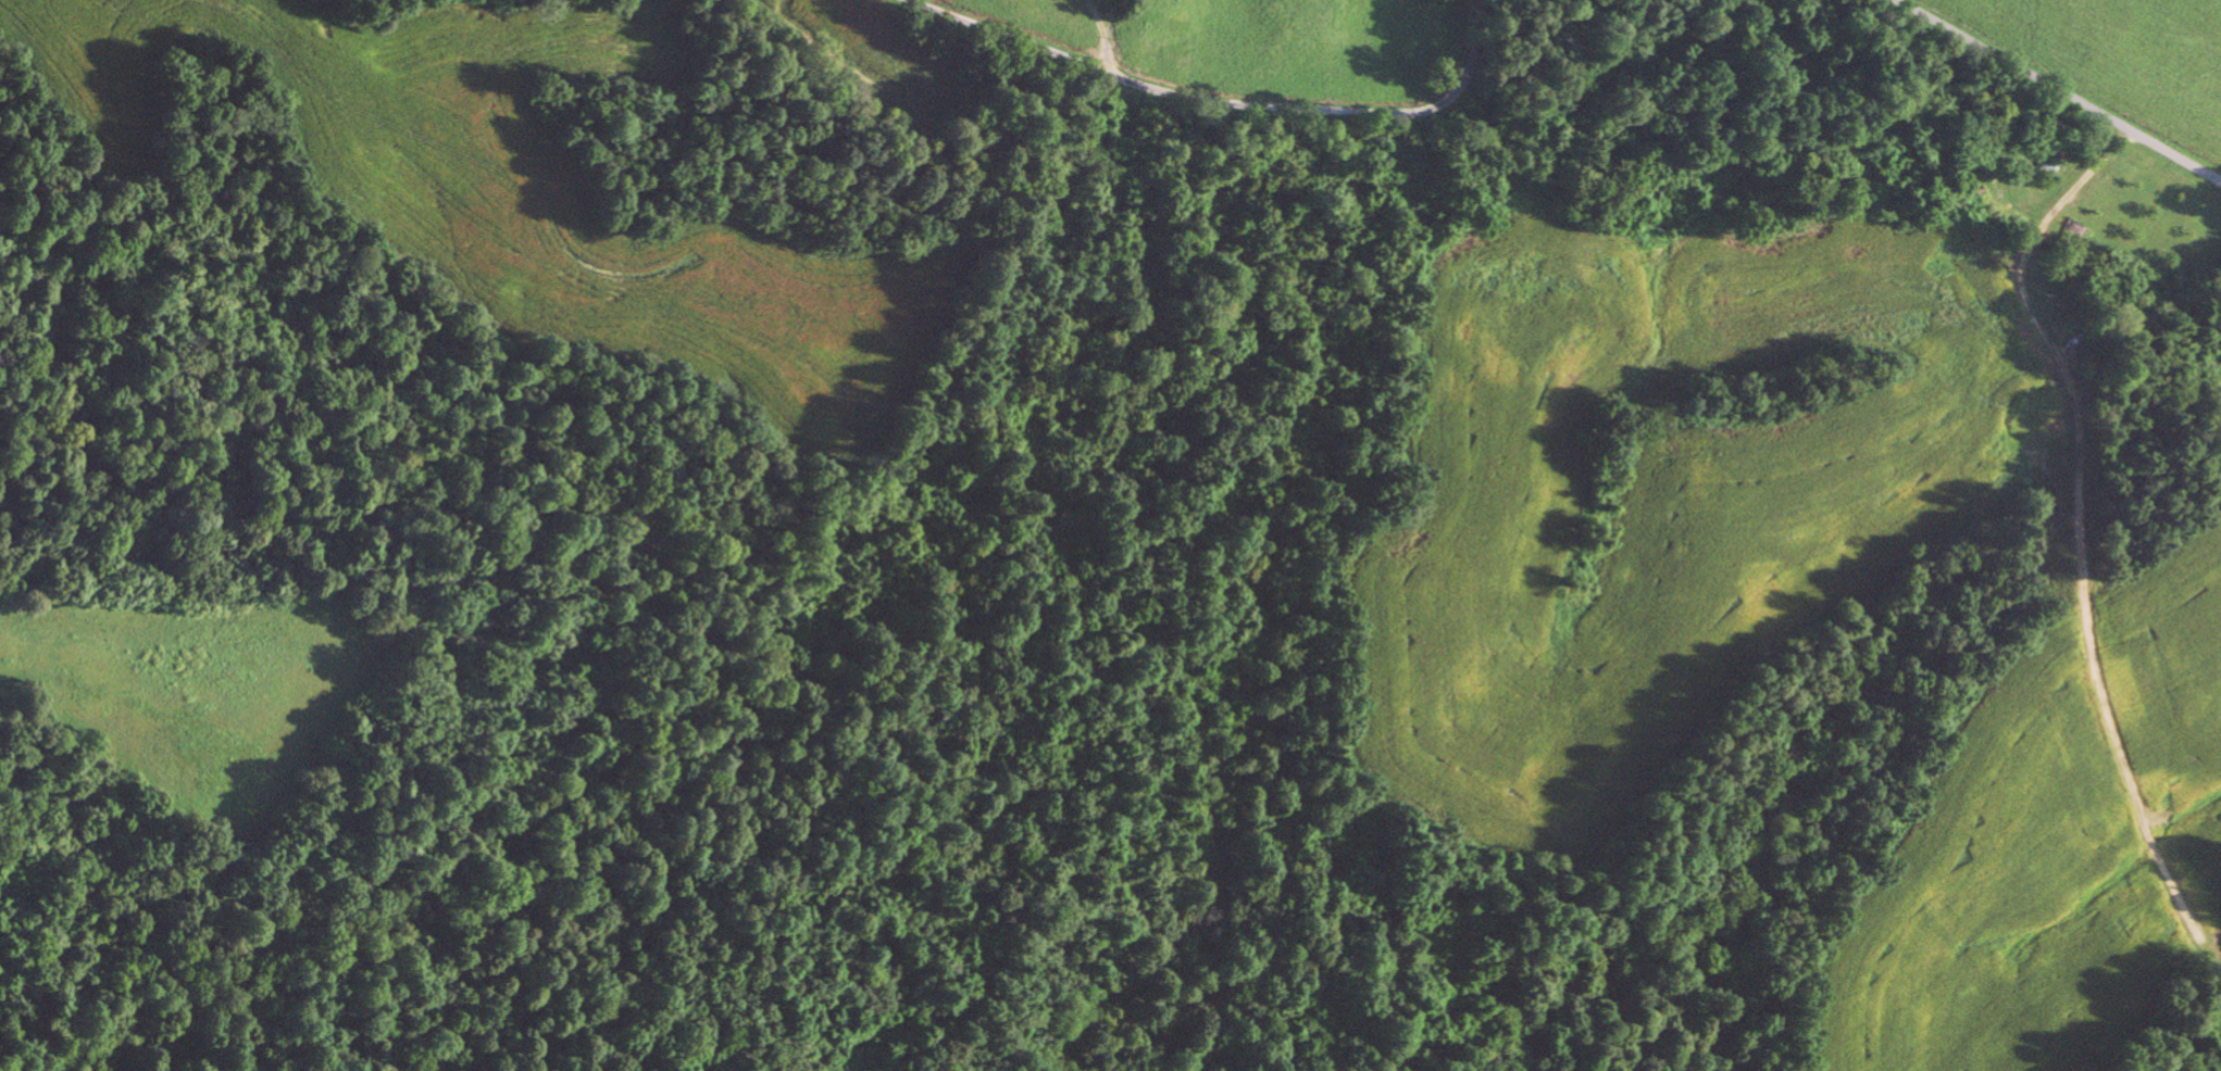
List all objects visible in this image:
road: (2059, 88)
road: (1228, 100)

